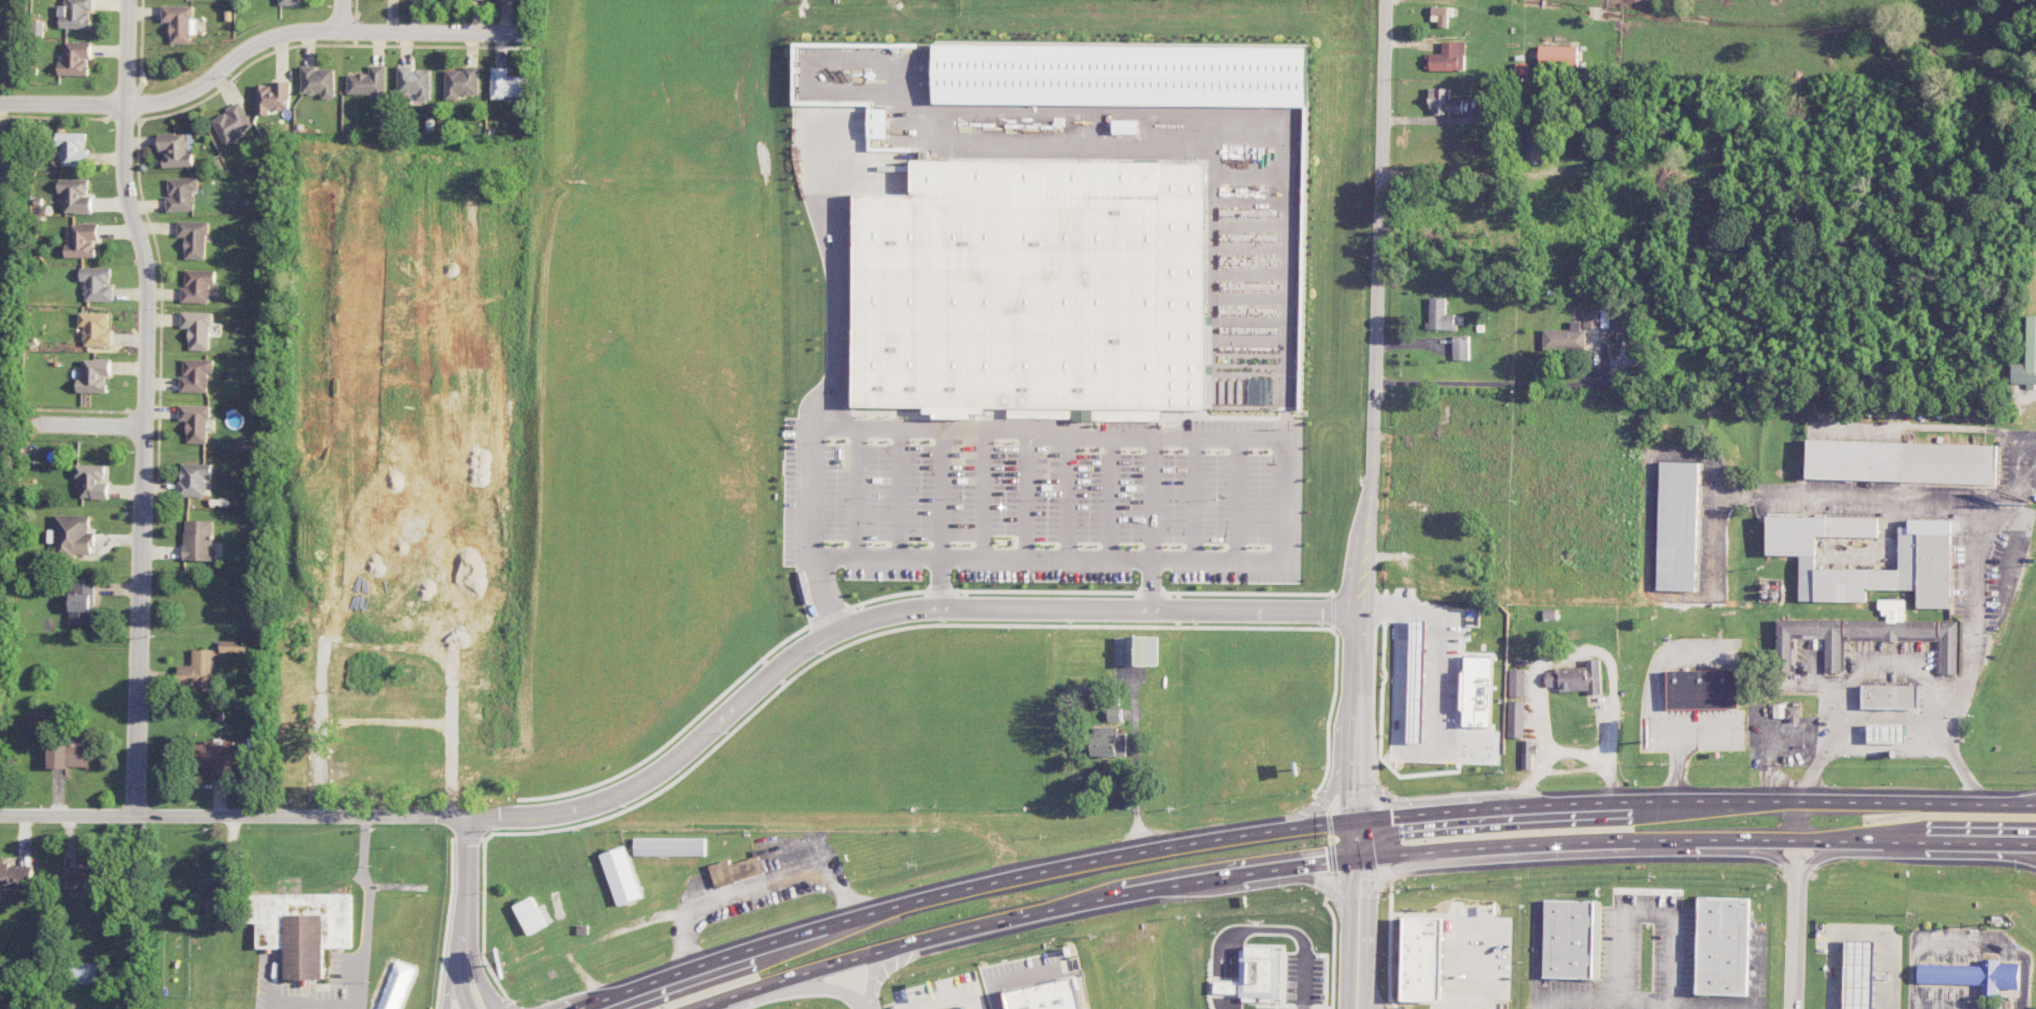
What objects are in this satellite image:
building: (288, 2)
building: (76, 14)
road: (343, 15)
building: (1439, 15)
building: (178, 22)
road: (259, 45)
road: (126, 52)
building: (1558, 56)
building: (1447, 57)
building: (75, 59)
building: (1122, 75)
building: (317, 81)
building: (367, 82)
building: (413, 82)
building: (461, 82)
building: (506, 84)
building: (271, 97)
building: (1443, 102)
building: (231, 123)
building: (877, 125)
building: (1127, 127)
building: (72, 148)
building: (175, 149)
building: (3, 156)
road: (1462, 168)
building: (181, 193)
building: (75, 195)
building: (193, 238)
building: (82, 240)
building: (97, 283)
building: (197, 285)
building: (1034, 290)
building: (1439, 315)
building: (1595, 322)
building: (96, 328)
building: (197, 329)
building: (1565, 337)
building: (1460, 347)
building: (2027, 358)
building: (195, 374)
building: (94, 375)
road: (1503, 382)
road: (1374, 409)
building: (195, 422)
road: (85, 423)
road: (144, 458)
building: (1901, 461)
building: (193, 479)
building: (91, 481)
building: (1677, 526)
building: (71, 536)
building: (198, 540)
road: (971, 554)
building: (1924, 561)
road: (936, 581)
road: (1975, 590)
building: (81, 602)
building: (1869, 636)
road: (1434, 645)
building: (232, 646)
building: (1144, 650)
building: (1495, 660)
building: (198, 670)
building: (1576, 678)
building: (1517, 682)
building: (1702, 689)
building: (1890, 696)
building: (1794, 713)
building: (1114, 714)
road: (1890, 718)
building: (1516, 719)
building: (36, 724)
building: (1886, 732)
building: (1397, 739)
building: (1447, 739)
road: (695, 741)
building: (1109, 742)
road: (1572, 752)
building: (69, 754)
building: (1527, 754)
building: (220, 756)
road: (1691, 802)
road: (2029, 802)
road: (2029, 804)
traffic signals: (1361, 819)
road: (1361, 838)
building: (669, 846)
road: (1992, 849)
road: (1817, 856)
road: (1781, 857)
road: (1359, 858)
traffic signals: (1361, 858)
building: (735, 871)
building: (621, 875)
building: (16, 876)
building: (81, 882)
road: (467, 883)
road: (974, 888)
building: (214, 904)
road: (363, 912)
road: (1651, 914)
building: (532, 915)
building: (303, 929)
road: (1347, 932)
road: (1368, 932)
road: (1861, 933)
building: (1569, 939)
building: (1723, 946)
road: (1796, 946)
road: (1539, 955)
building: (1423, 958)
road: (1758, 969)
building: (85, 972)
building: (1254, 974)
building: (1859, 974)
road: (1008, 975)
building: (1974, 975)
road: (459, 980)
road: (477, 980)
road: (869, 982)
road: (827, 989)
building: (1045, 996)
road: (1647, 1002)
road: (307, 1008)
building: (959, 1008)

